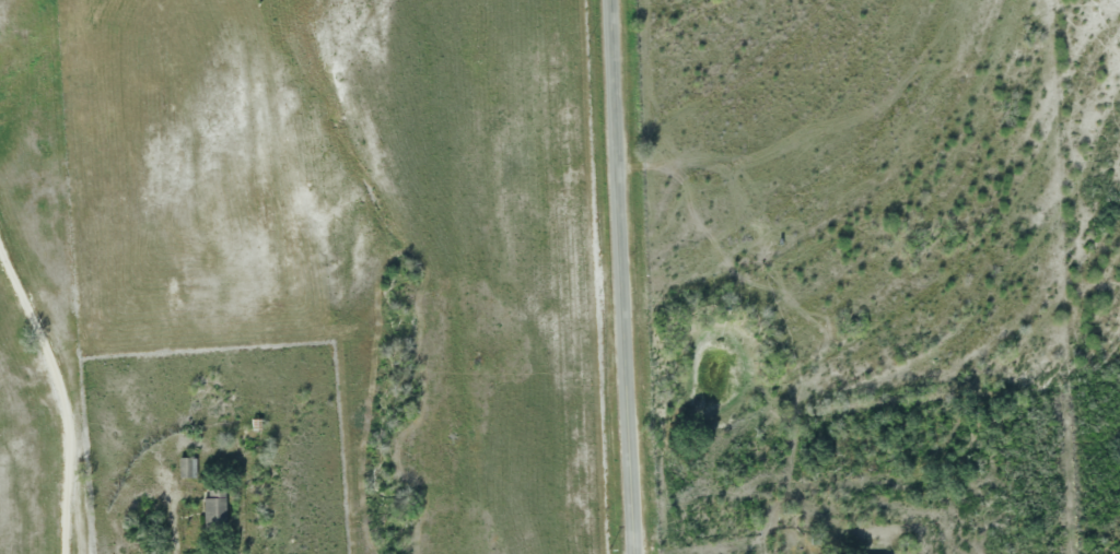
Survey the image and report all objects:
road: (631, 275)
road: (62, 393)
building: (186, 469)
building: (212, 512)
road: (173, 528)

